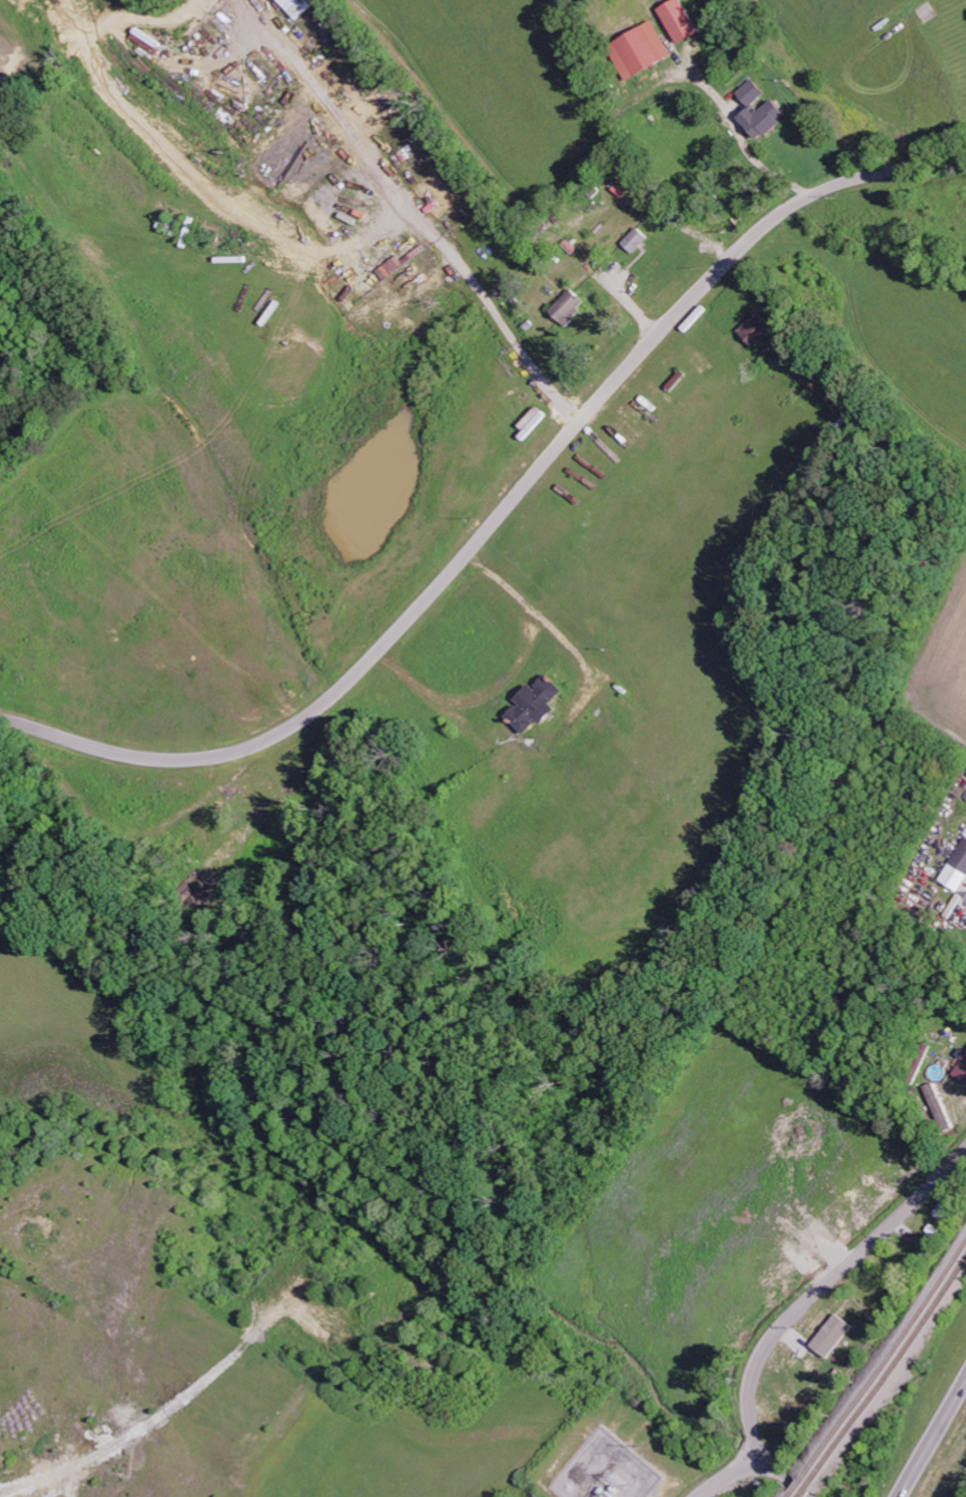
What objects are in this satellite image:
building: (298, 6)
building: (681, 20)
building: (641, 50)
building: (775, 109)
building: (637, 240)
building: (570, 306)
building: (759, 329)
road: (503, 513)
building: (539, 705)
building: (956, 869)
building: (961, 1065)
road: (822, 1281)
building: (831, 1336)
railway: (879, 1369)
railway: (885, 1379)
road: (931, 1437)
road: (744, 1462)
road: (773, 1468)
road: (710, 1484)

